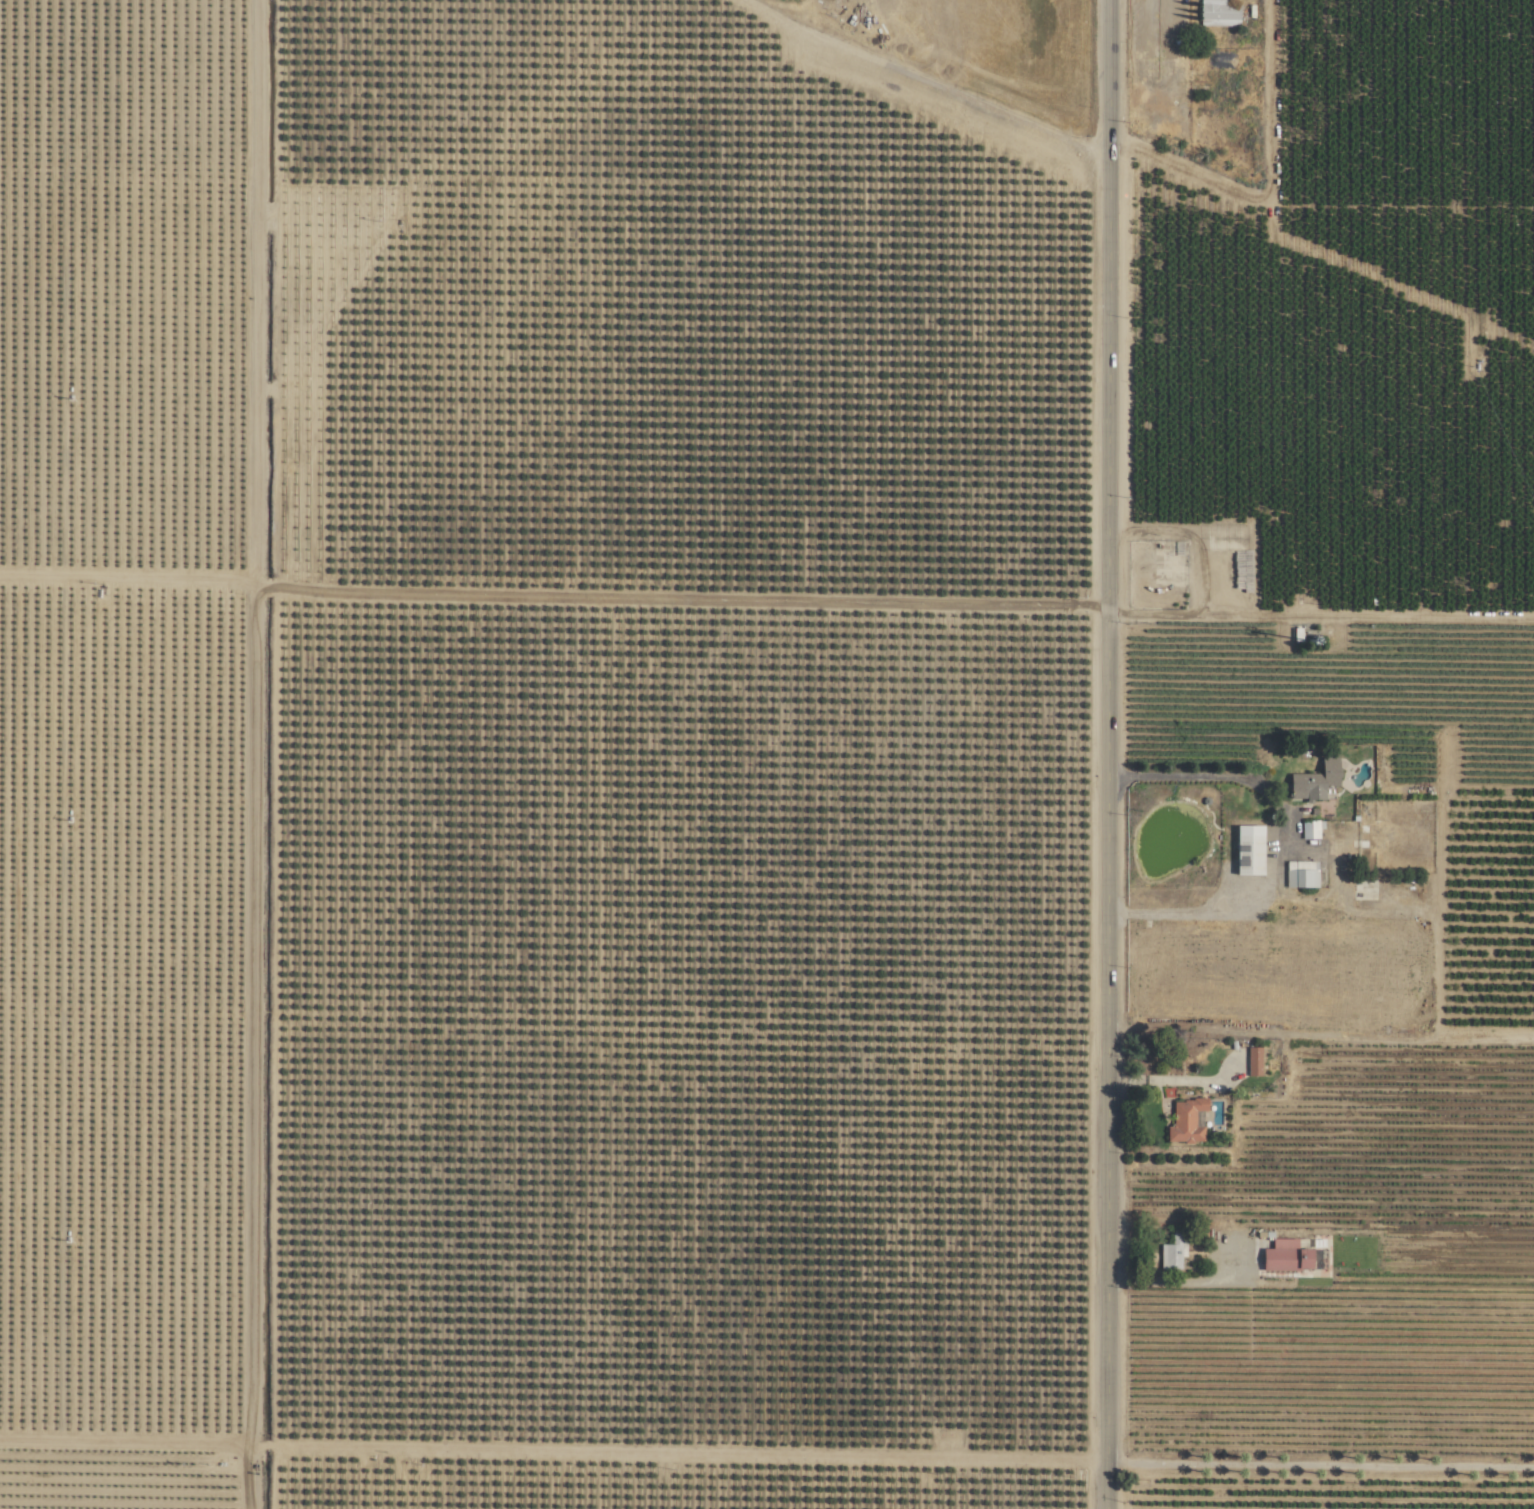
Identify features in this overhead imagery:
building: (1219, 13)
road: (707, 601)
road: (1111, 754)
road: (1183, 777)
building: (1317, 781)
building: (1251, 850)
building: (1302, 875)
road: (1252, 906)
building: (1255, 1062)
road: (1160, 1082)
building: (1188, 1122)
building: (1174, 1253)
building: (1289, 1257)
road: (1267, 1468)

